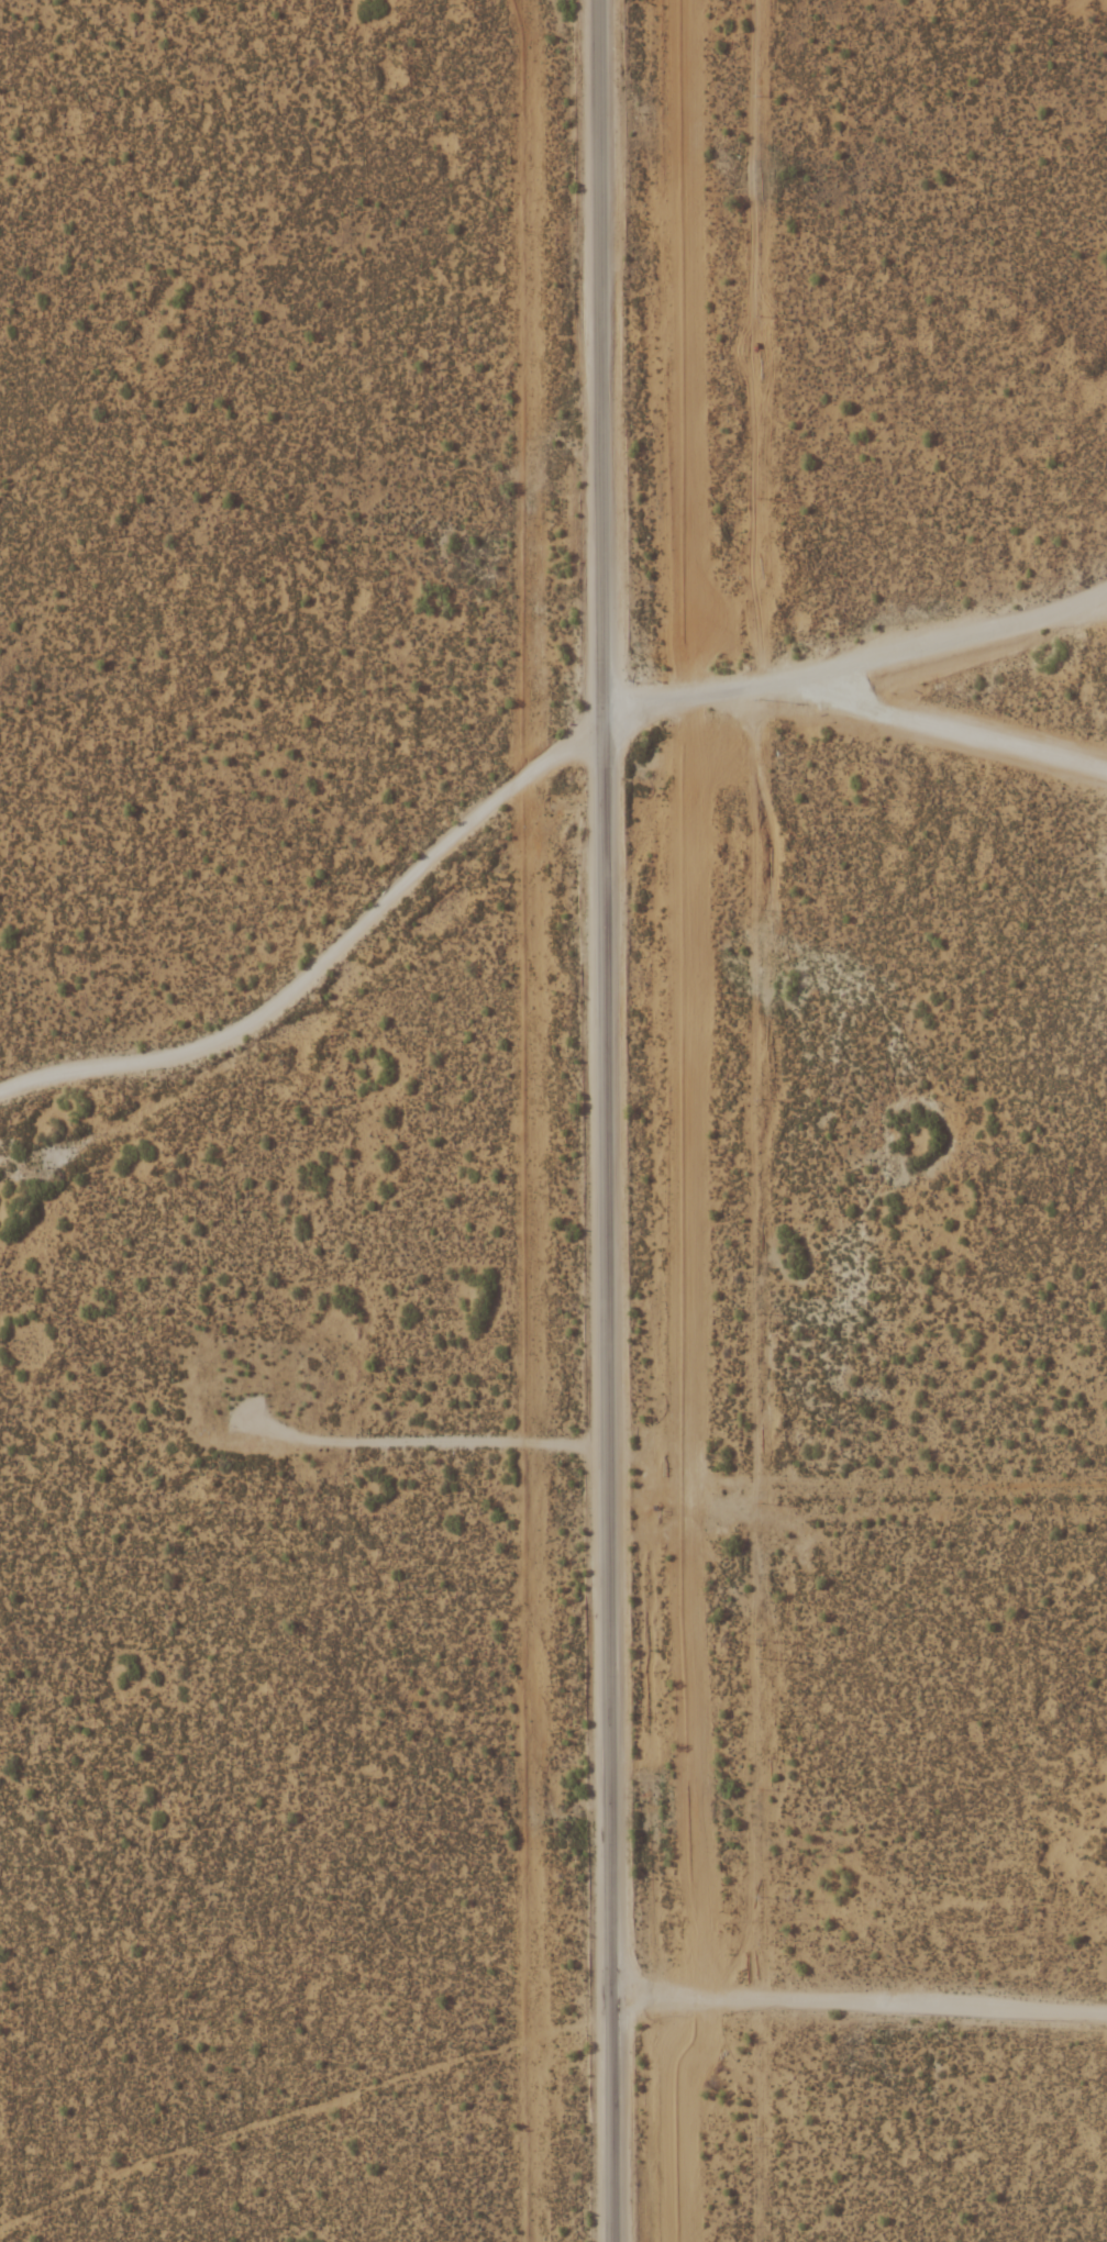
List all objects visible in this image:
road: (1098, 592)
road: (941, 721)
road: (520, 777)
road: (602, 1121)
road: (450, 1436)
road: (857, 1997)

